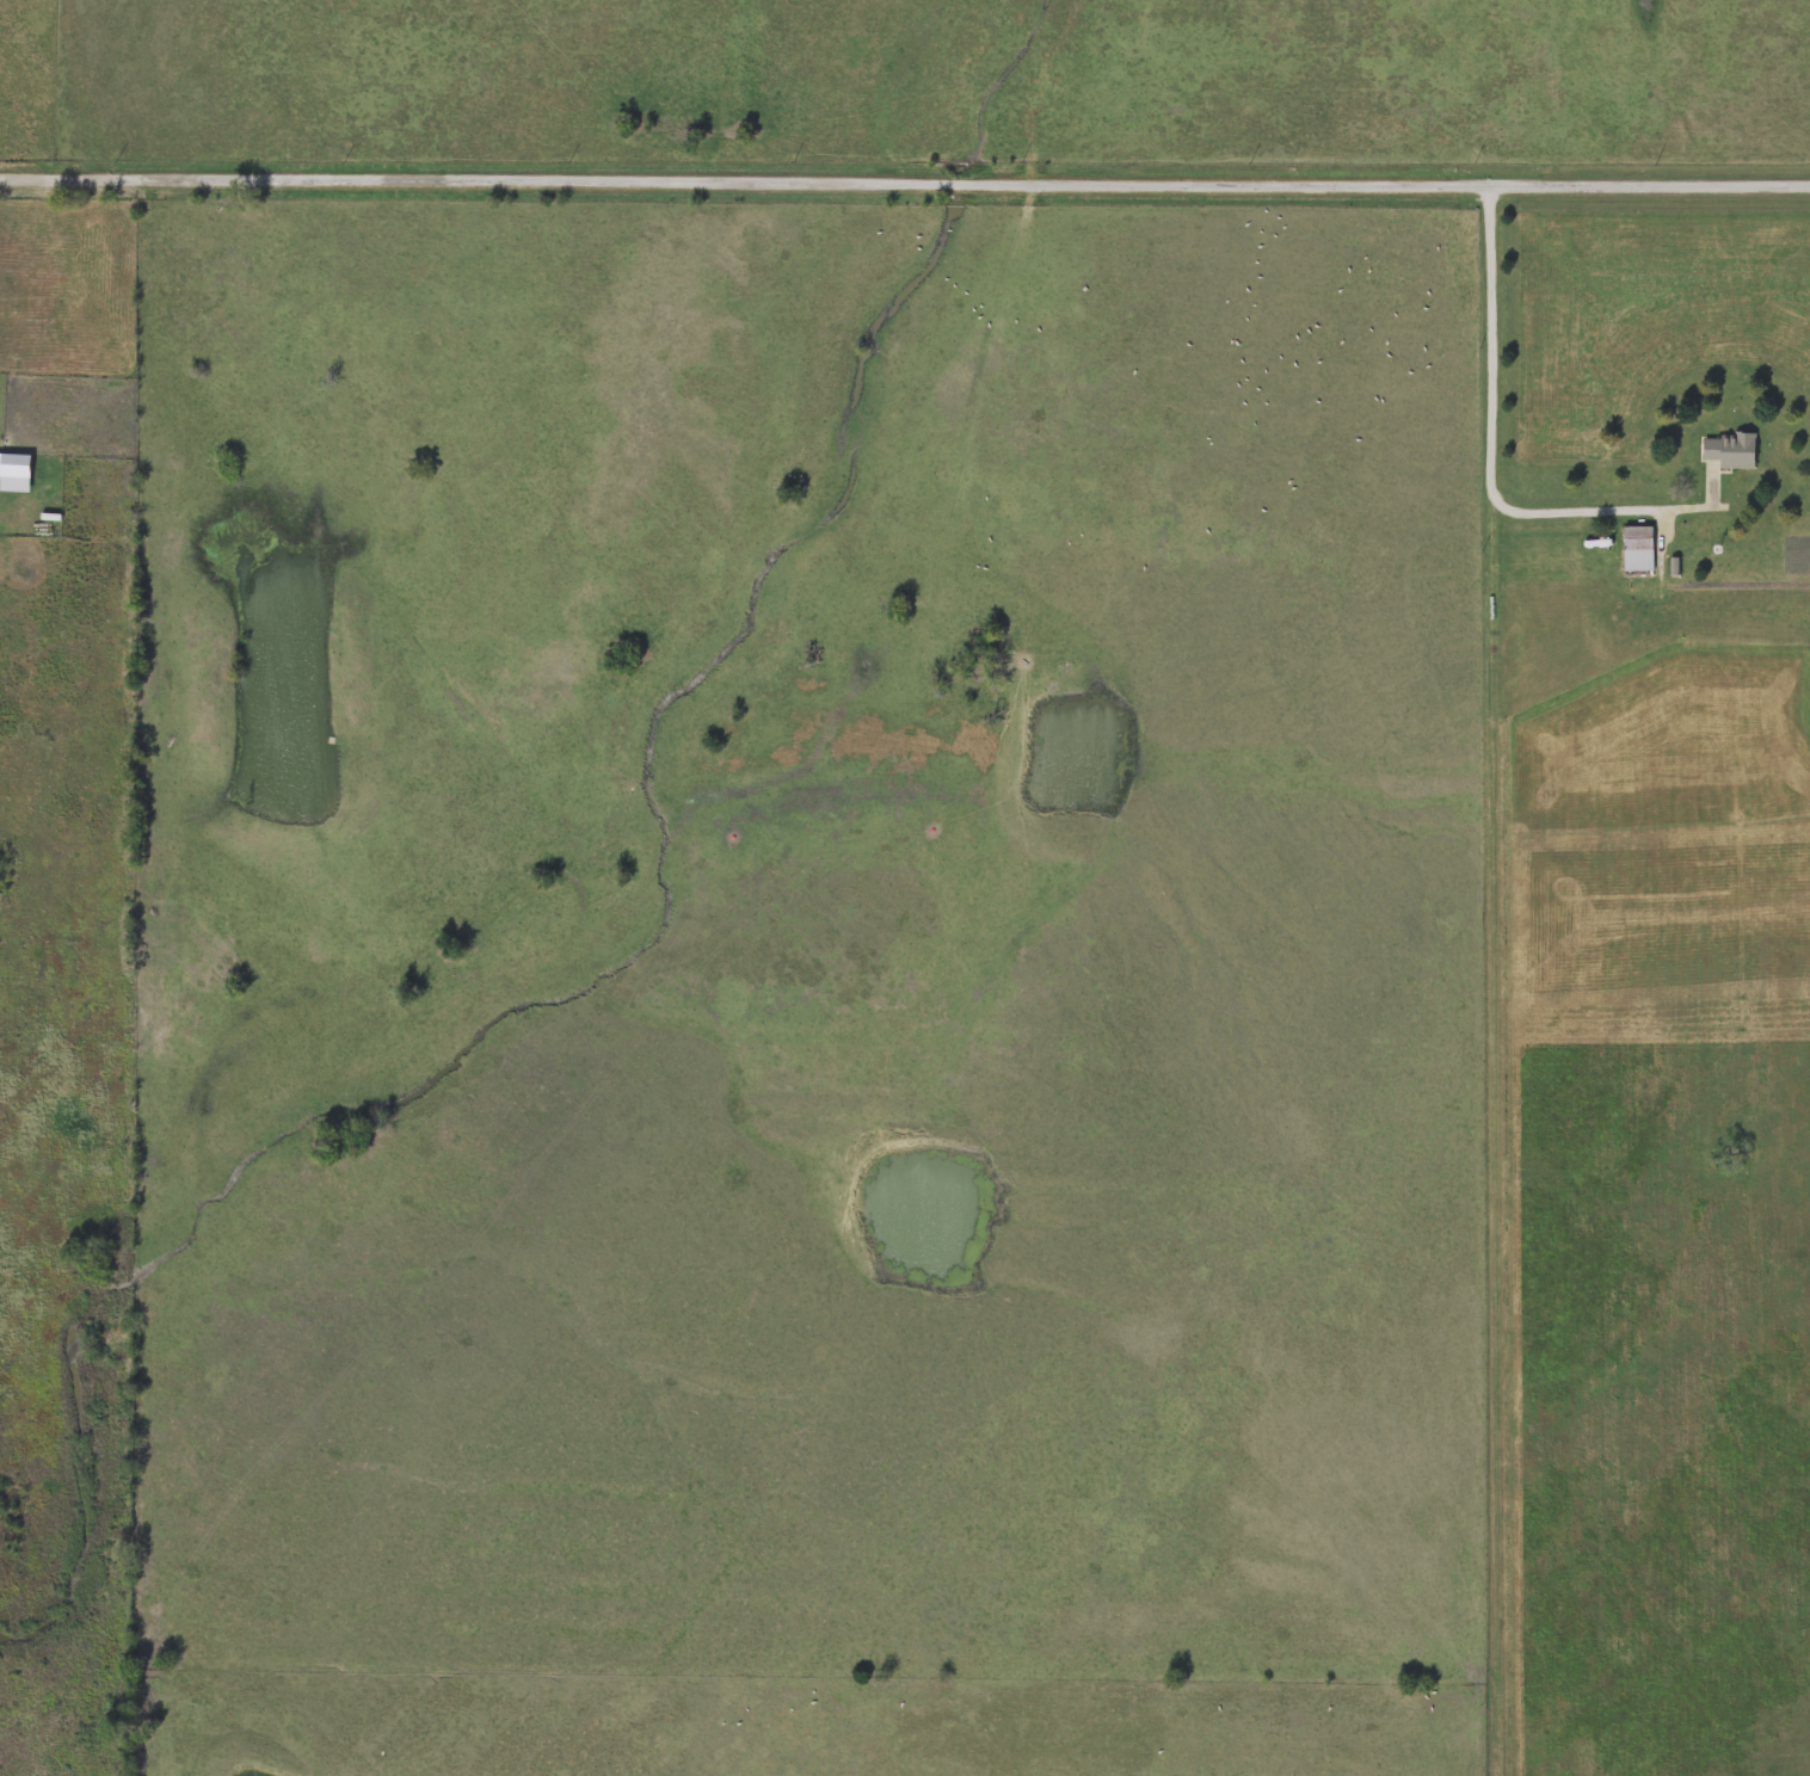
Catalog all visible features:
road: (905, 183)
road: (1494, 423)
building: (1729, 450)
building: (14, 471)
building: (1637, 548)

